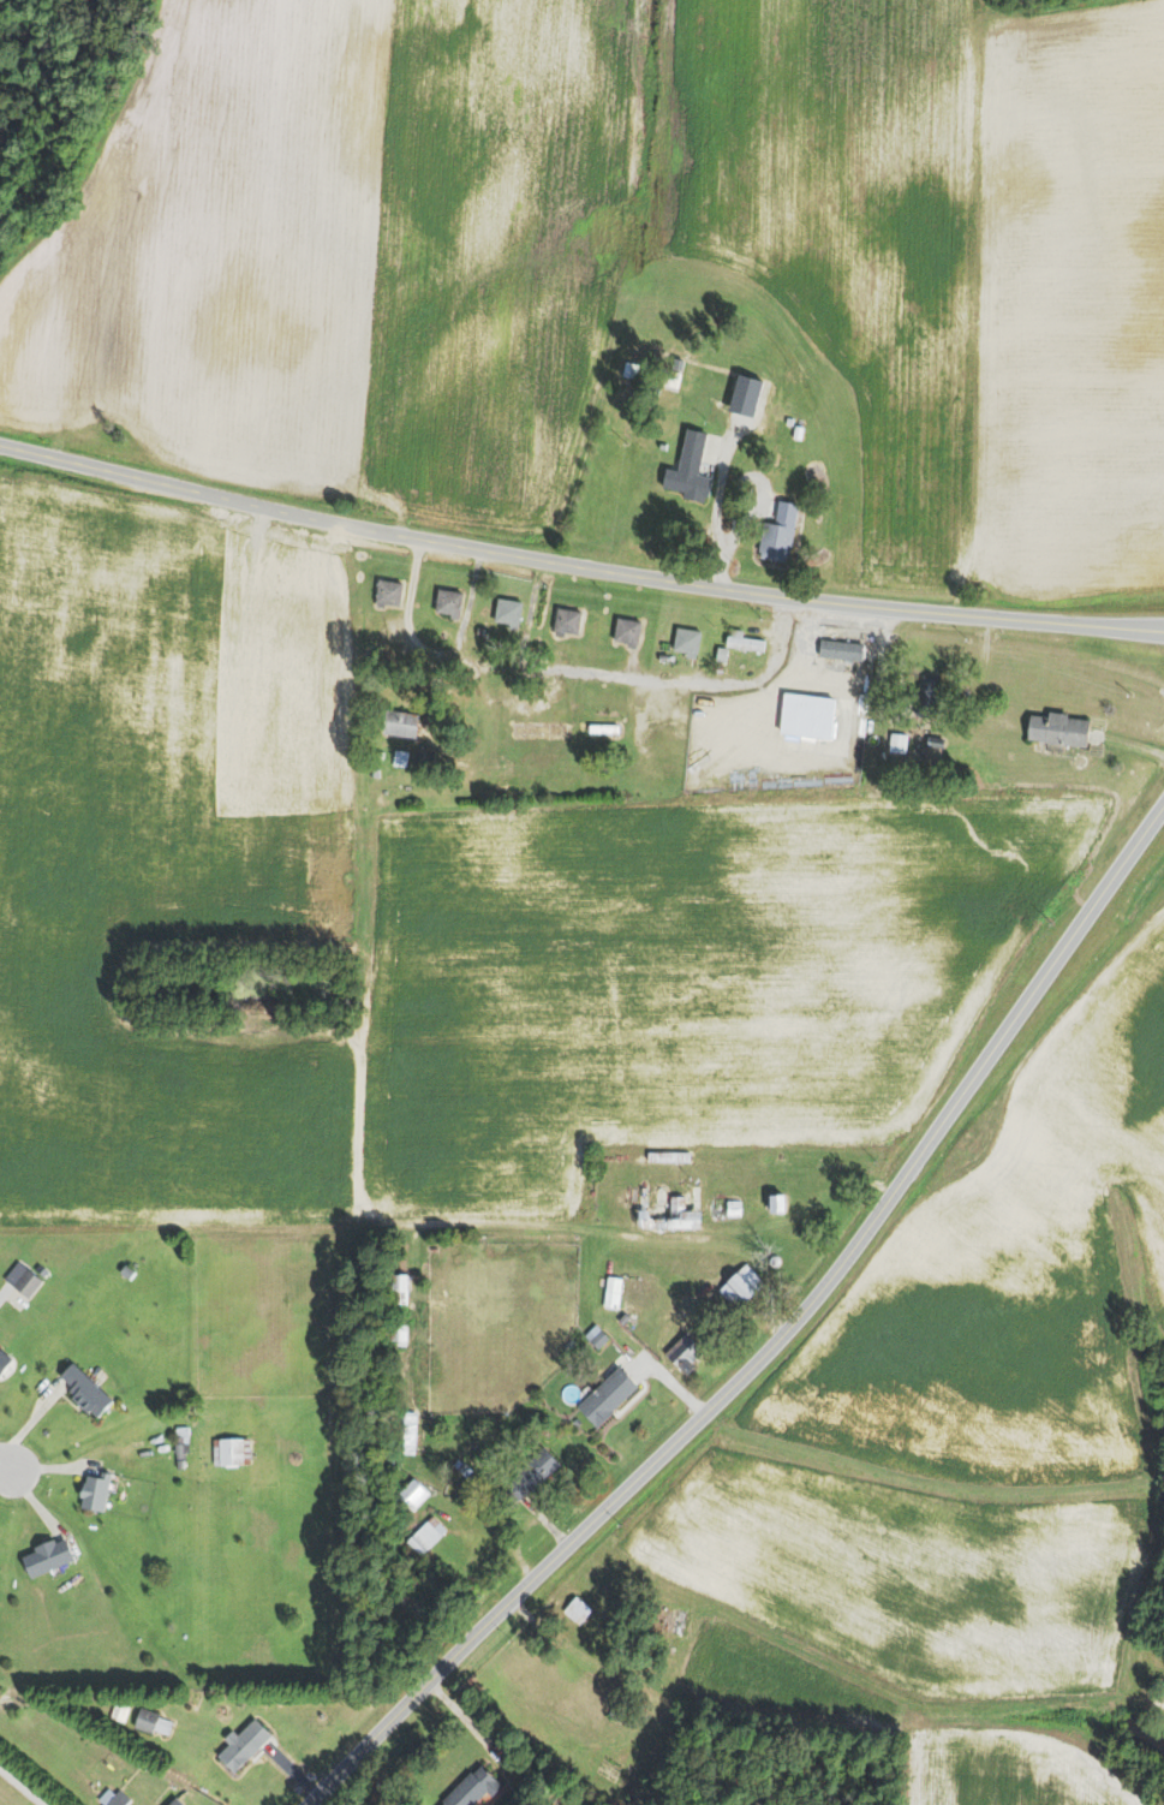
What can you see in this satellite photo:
building: (685, 470)
building: (776, 534)
road: (577, 567)
building: (384, 591)
building: (444, 601)
building: (505, 612)
building: (563, 620)
building: (623, 630)
building: (682, 641)
building: (837, 649)
road: (578, 674)
building: (924, 695)
building: (804, 714)
building: (395, 722)
building: (1053, 727)
building: (770, 1202)
building: (667, 1215)
building: (19, 1279)
building: (396, 1285)
building: (738, 1285)
building: (395, 1334)
building: (592, 1336)
road: (772, 1338)
building: (681, 1352)
building: (2, 1357)
building: (82, 1390)
building: (603, 1396)
building: (405, 1432)
building: (228, 1450)
road: (2, 1463)
building: (526, 1475)
building: (90, 1491)
building: (410, 1494)
building: (423, 1535)
building: (42, 1556)
building: (574, 1609)
building: (150, 1722)
building: (239, 1744)
building: (468, 1788)
park: (11, 1795)
building: (111, 1797)
building: (169, 1801)

